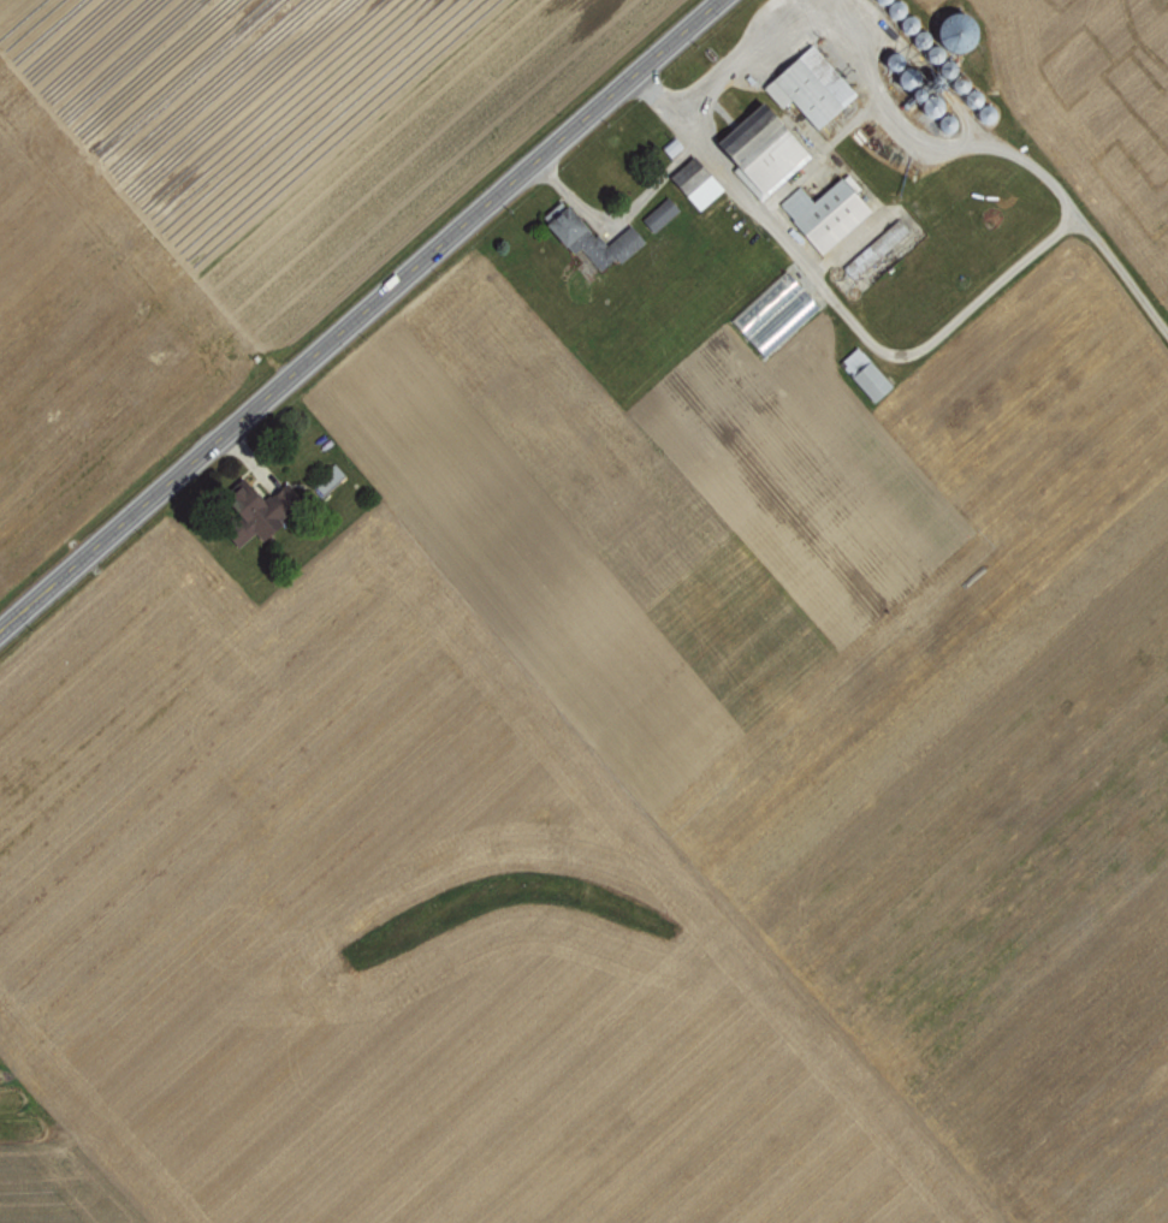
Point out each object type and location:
building: (951, 29)
road: (718, 71)
building: (807, 84)
building: (671, 146)
building: (759, 148)
building: (694, 180)
building: (824, 210)
building: (659, 213)
building: (588, 234)
building: (877, 244)
road: (1122, 273)
road: (1000, 279)
building: (773, 311)
road: (360, 316)
building: (862, 372)
building: (249, 512)

